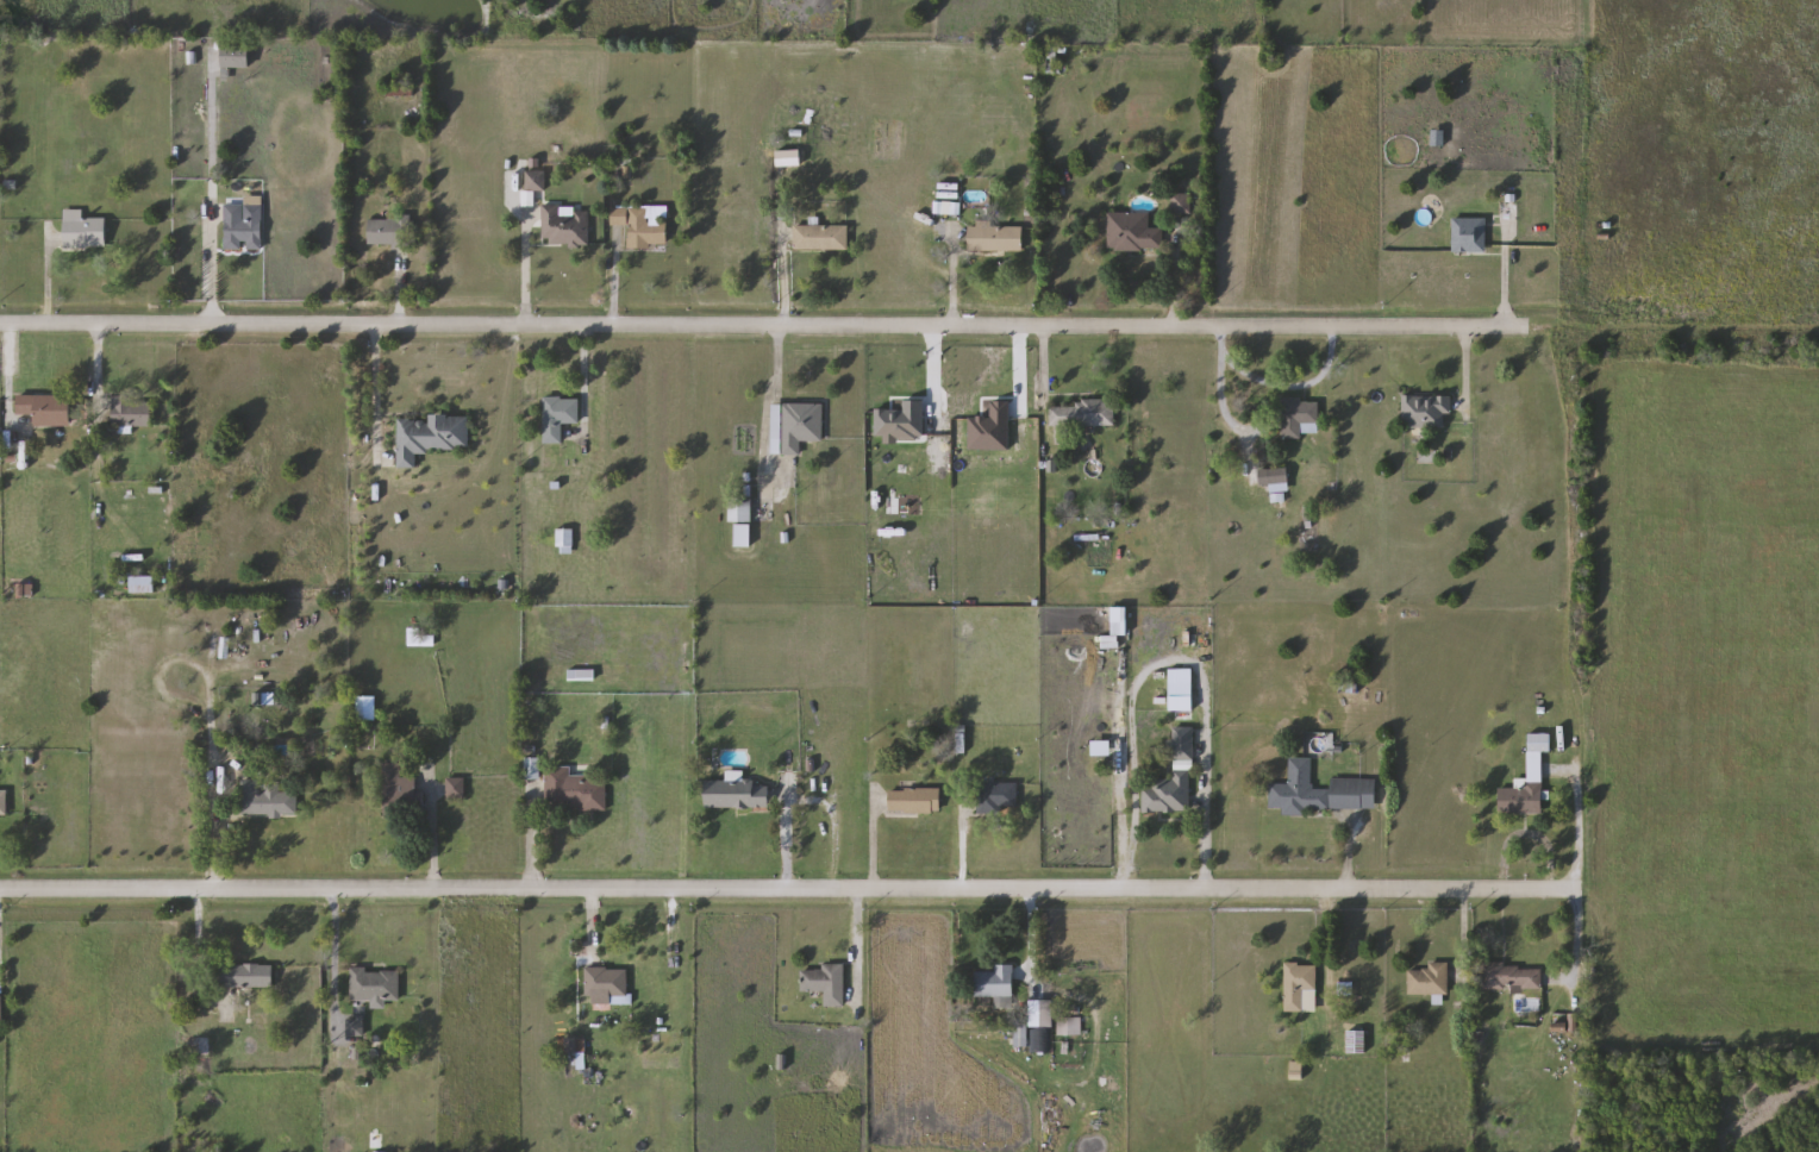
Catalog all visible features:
building: (237, 57)
building: (1051, 63)
building: (536, 181)
road: (213, 199)
building: (244, 224)
building: (565, 227)
building: (643, 228)
building: (83, 231)
building: (1133, 232)
building: (390, 233)
building: (1469, 236)
building: (821, 238)
building: (996, 239)
road: (527, 269)
road: (768, 327)
road: (380, 393)
building: (46, 409)
building: (132, 412)
building: (1427, 412)
building: (1082, 414)
building: (560, 417)
building: (1301, 418)
building: (796, 426)
building: (431, 437)
building: (1275, 480)
building: (740, 511)
building: (565, 541)
building: (144, 584)
road: (1173, 653)
building: (367, 708)
building: (1174, 780)
building: (1529, 781)
building: (575, 789)
building: (399, 791)
building: (1320, 791)
building: (998, 797)
building: (267, 800)
building: (914, 801)
building: (4, 803)
road: (1582, 828)
road: (535, 834)
road: (435, 837)
road: (685, 837)
road: (787, 891)
road: (195, 943)
road: (1579, 943)
road: (333, 951)
building: (248, 976)
building: (1512, 977)
building: (1430, 981)
building: (996, 983)
building: (606, 984)
building: (826, 984)
building: (375, 985)
building: (1301, 989)
building: (1033, 1022)
building: (356, 1027)
building: (1070, 1027)
building: (196, 1046)

